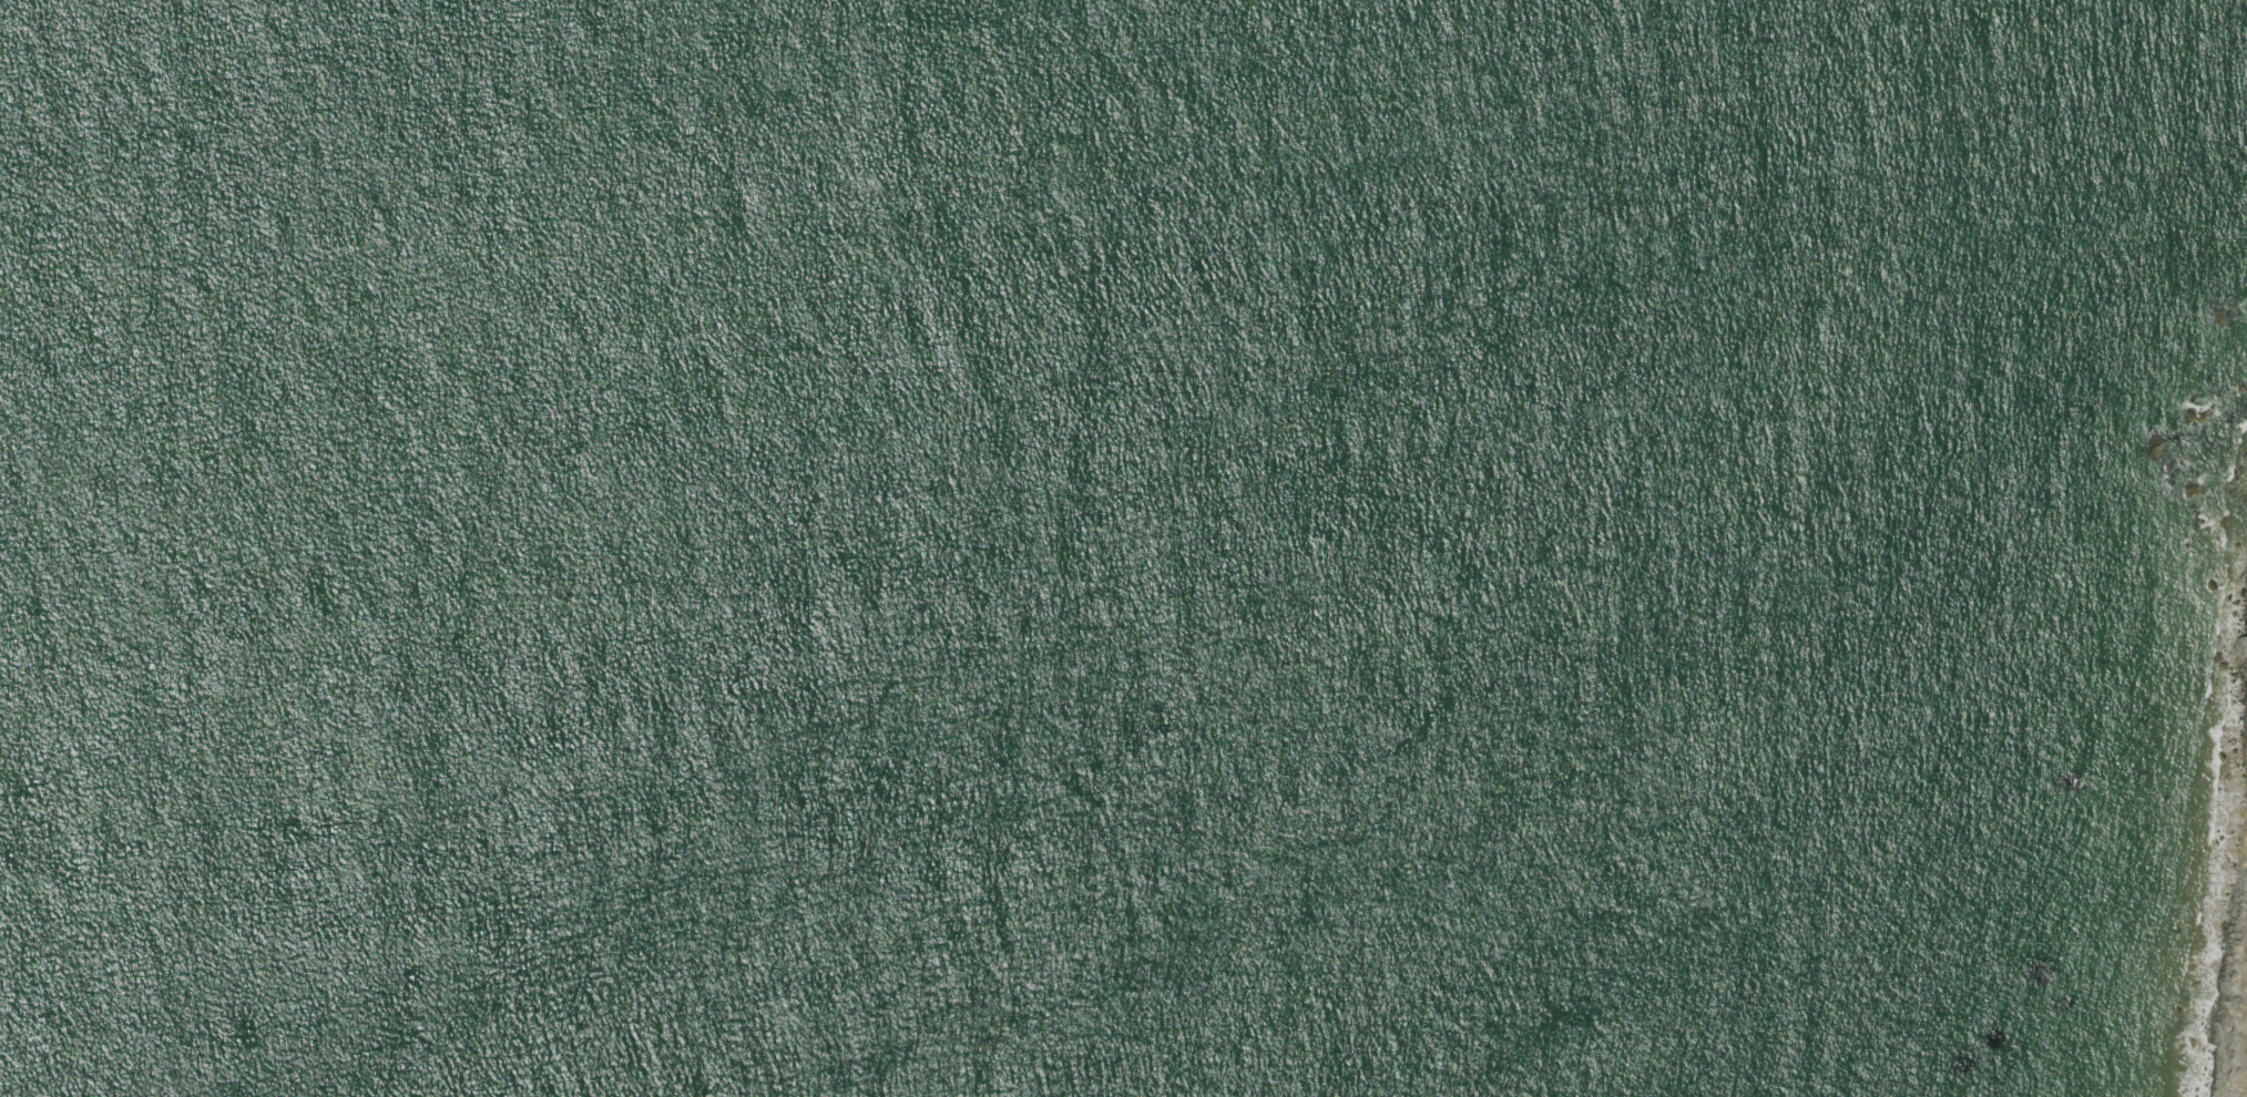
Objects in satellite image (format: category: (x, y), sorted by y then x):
park: (2222, 910)

